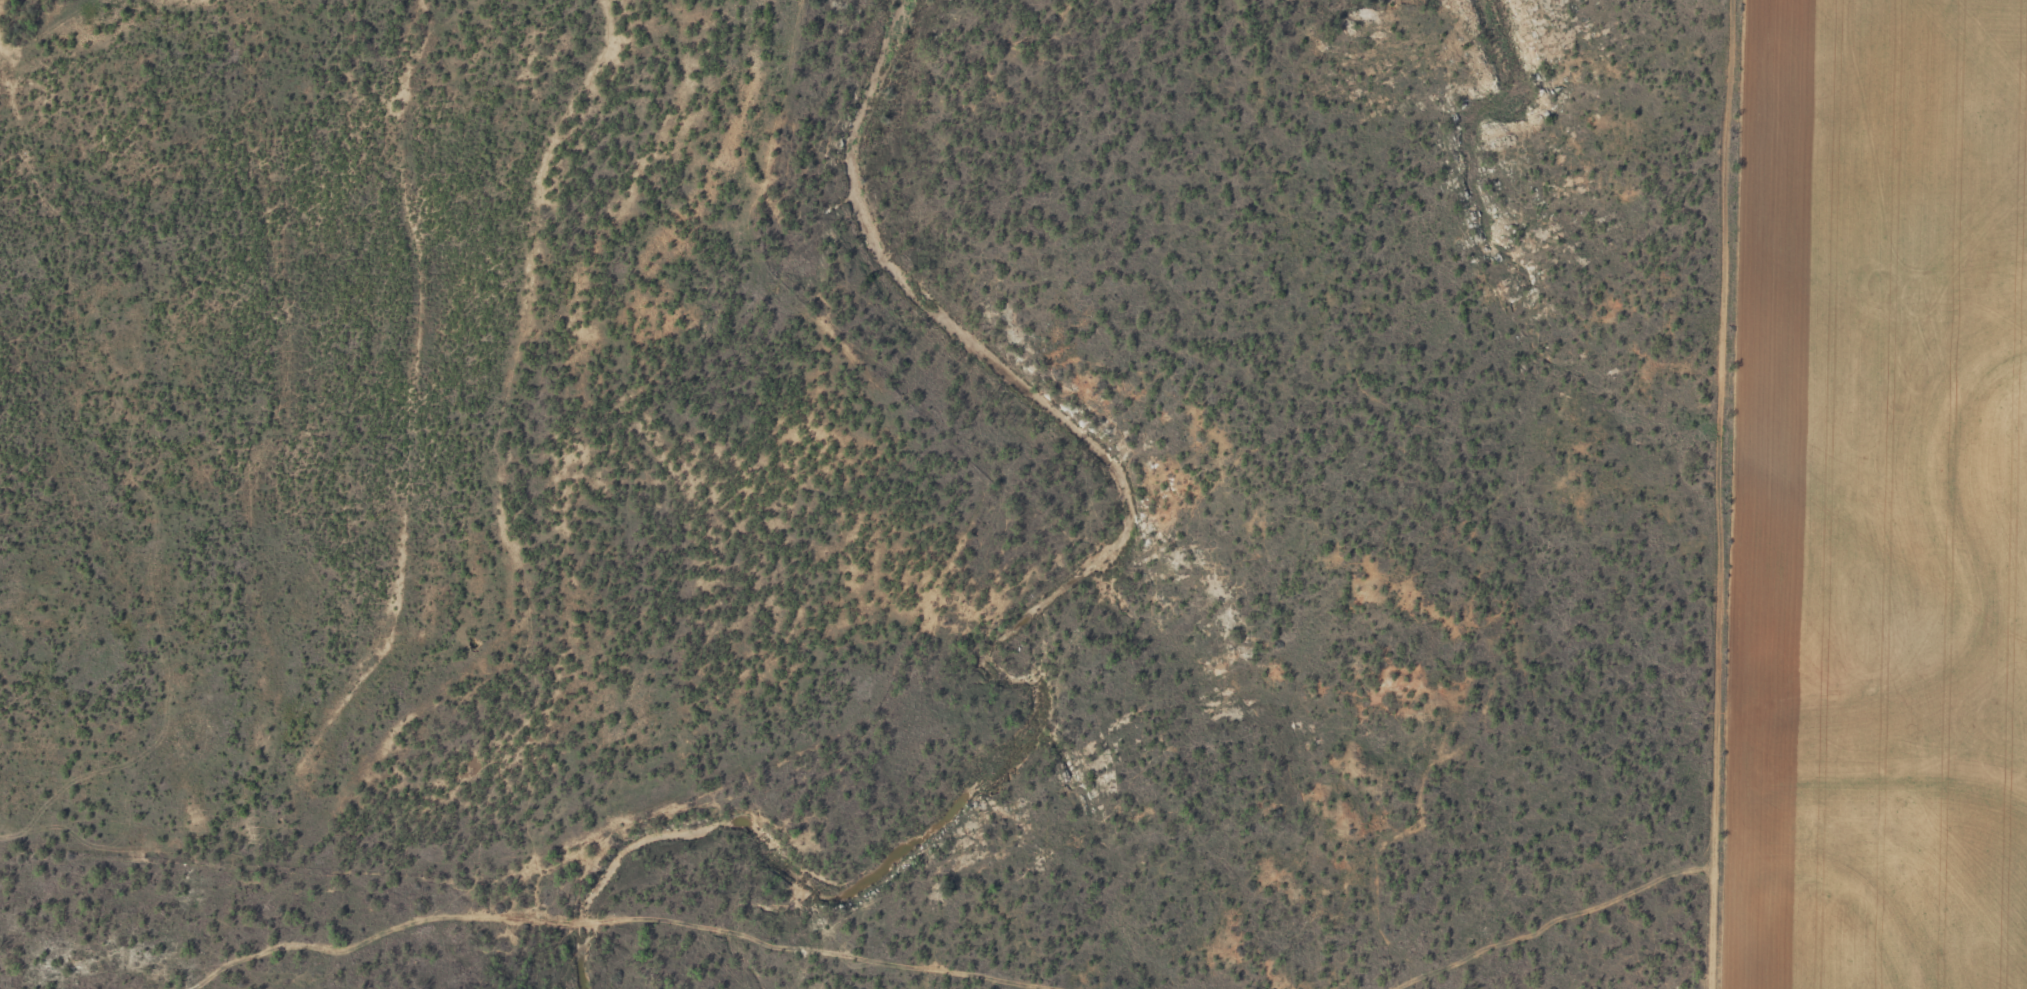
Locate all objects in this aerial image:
road: (1704, 494)

